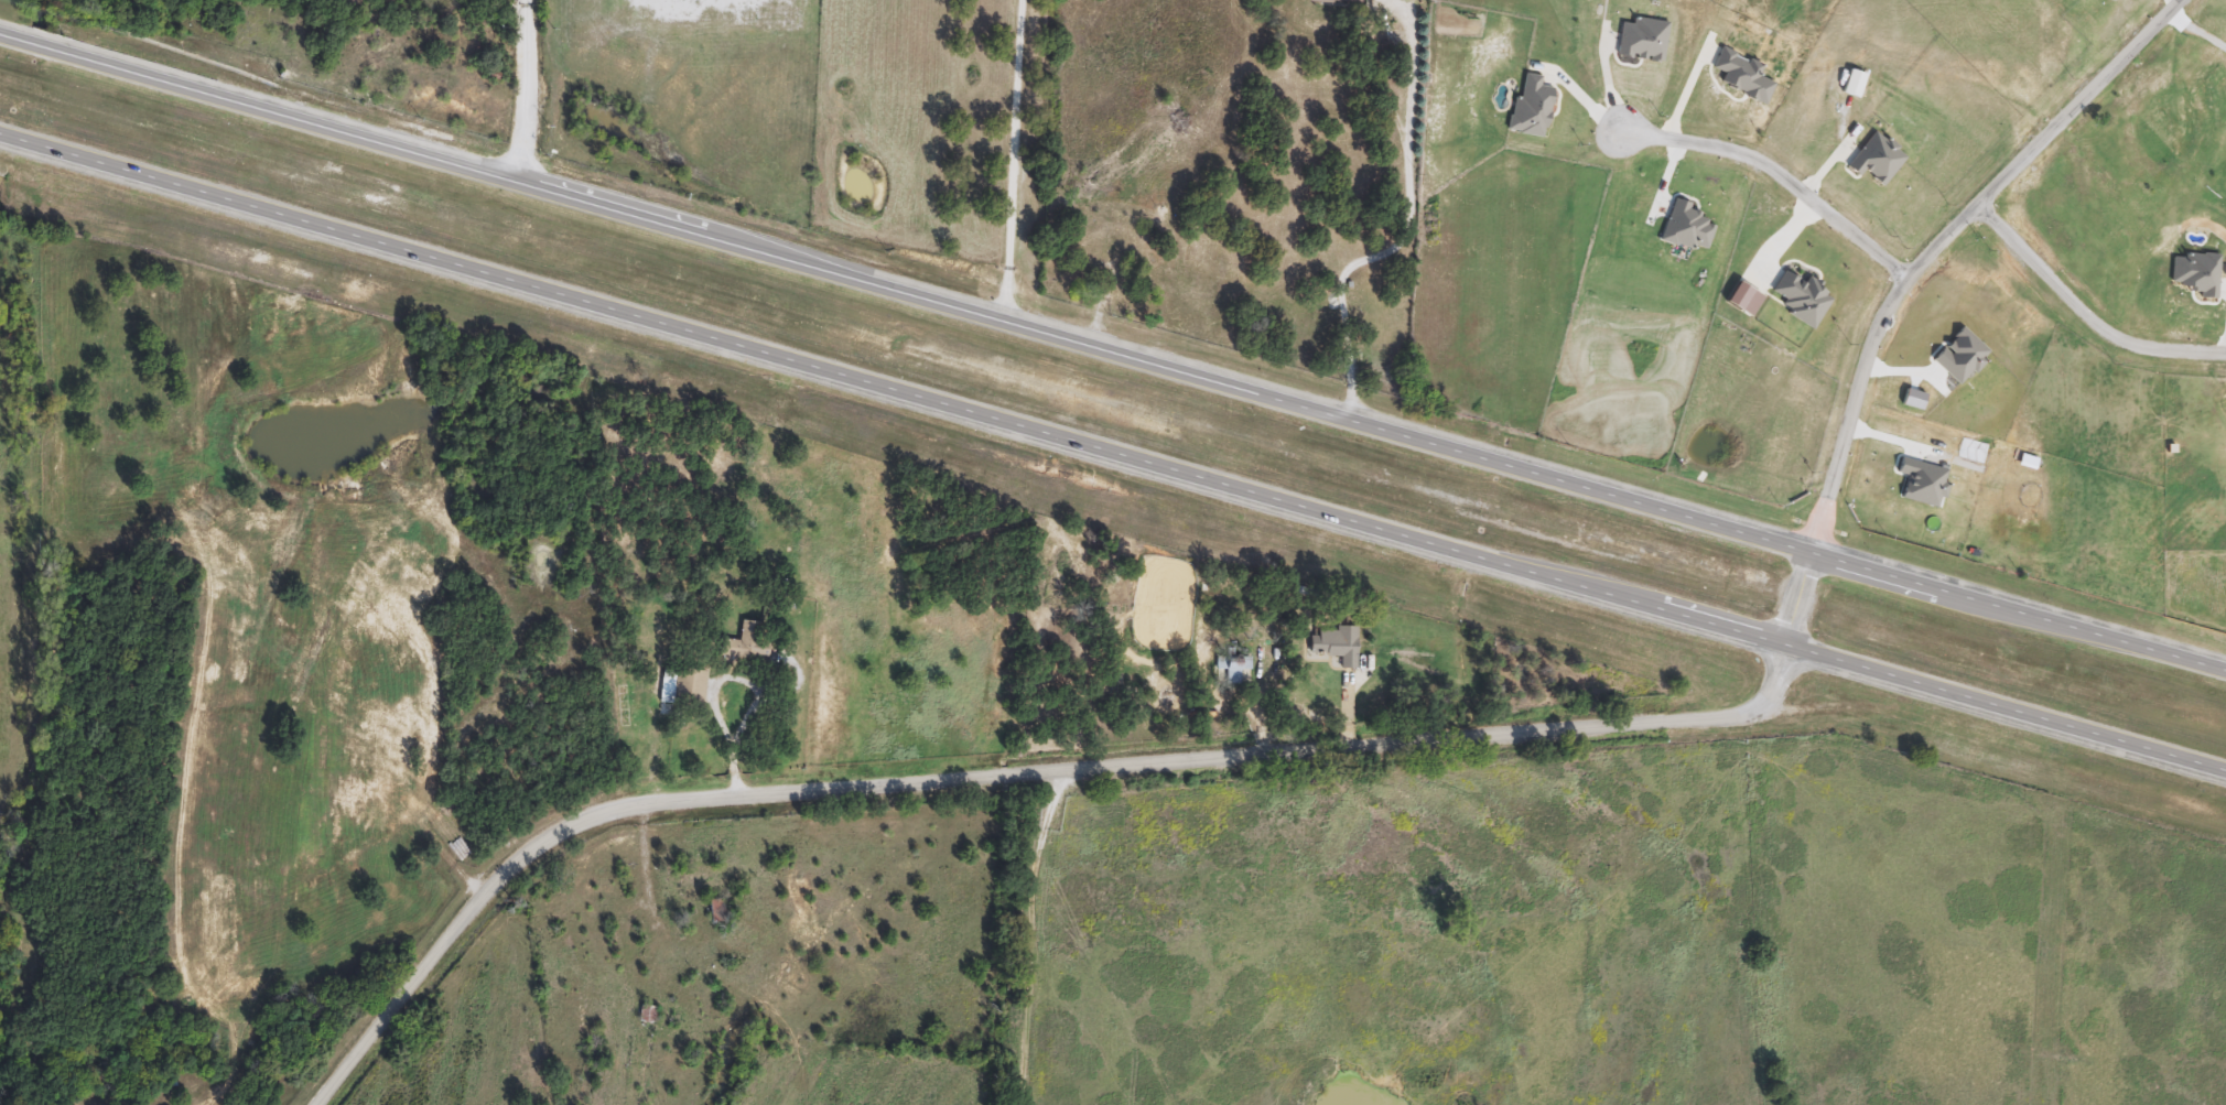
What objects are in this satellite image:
road: (2197, 29)
road: (528, 87)
road: (1015, 160)
road: (1782, 175)
road: (1404, 239)
road: (1936, 242)
road: (907, 290)
road: (2083, 308)
road: (894, 390)
road: (1800, 603)
road: (2013, 616)
building: (747, 643)
building: (1333, 643)
building: (1230, 668)
road: (2219, 674)
building: (682, 686)
road: (717, 692)
road: (1771, 695)
road: (2007, 711)
road: (963, 783)
building: (713, 910)
road: (1025, 939)
building: (646, 1015)

